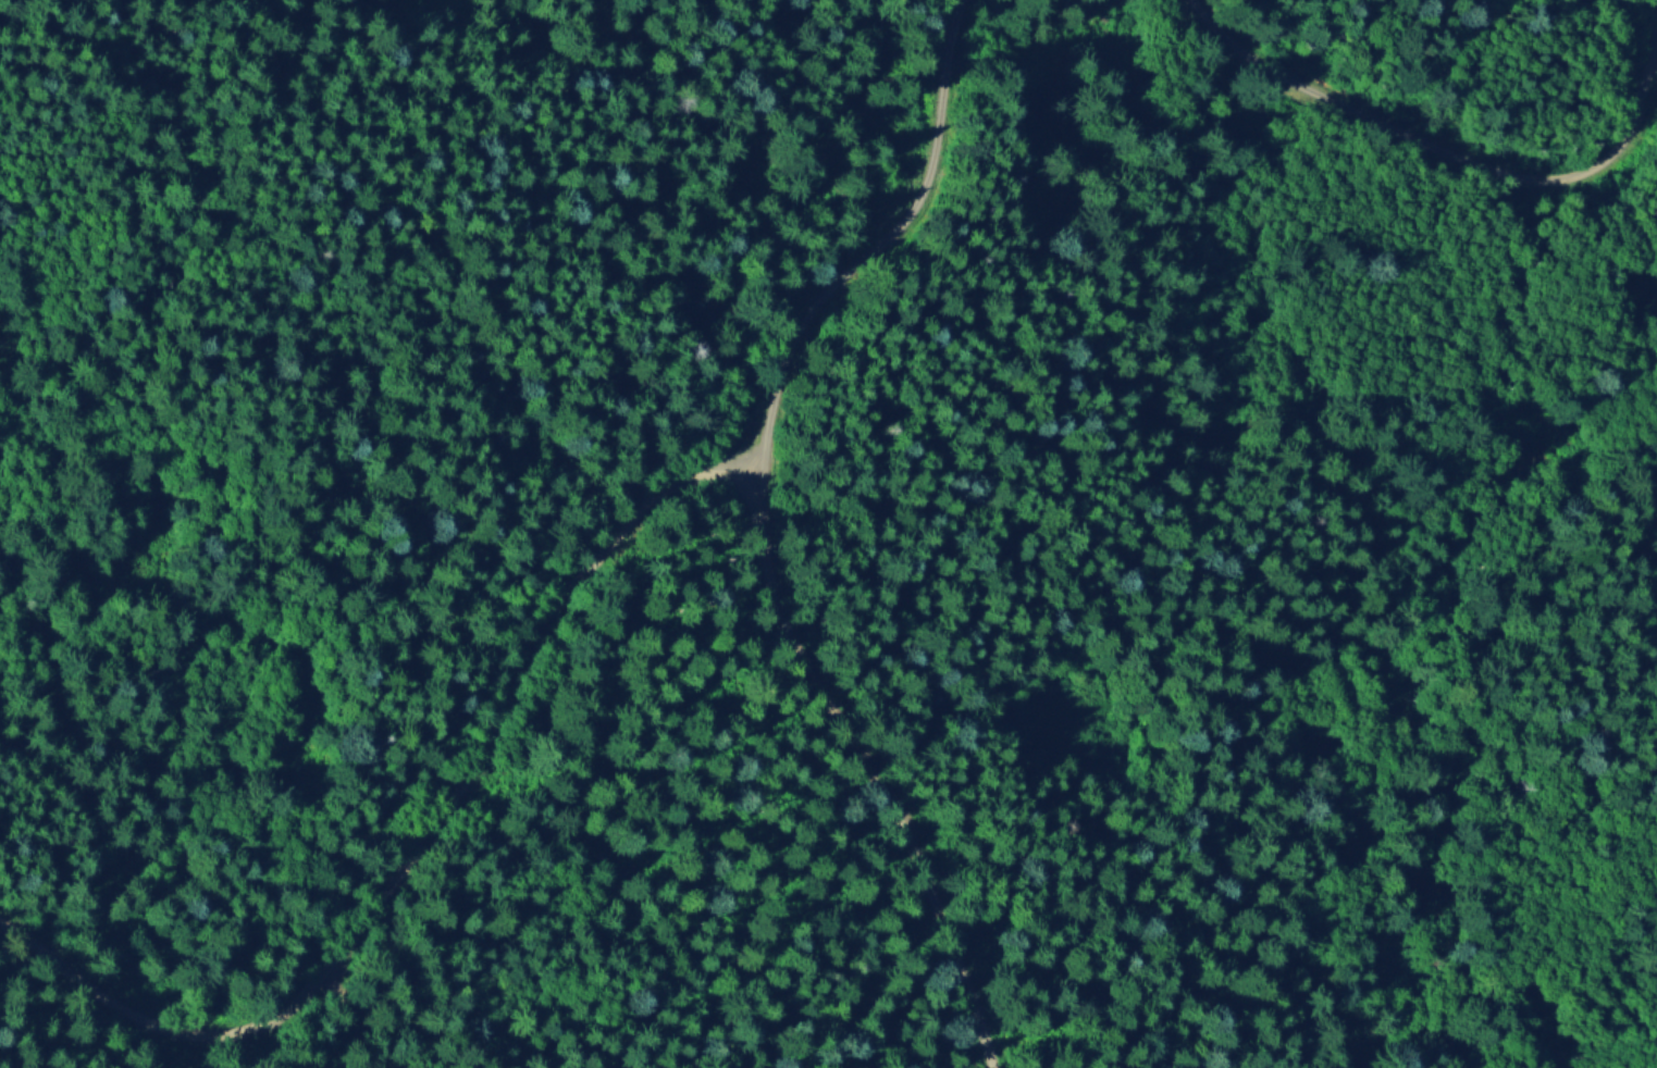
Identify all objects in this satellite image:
road: (1430, 135)
road: (886, 238)
road: (1268, 405)
road: (877, 761)
road: (422, 848)

